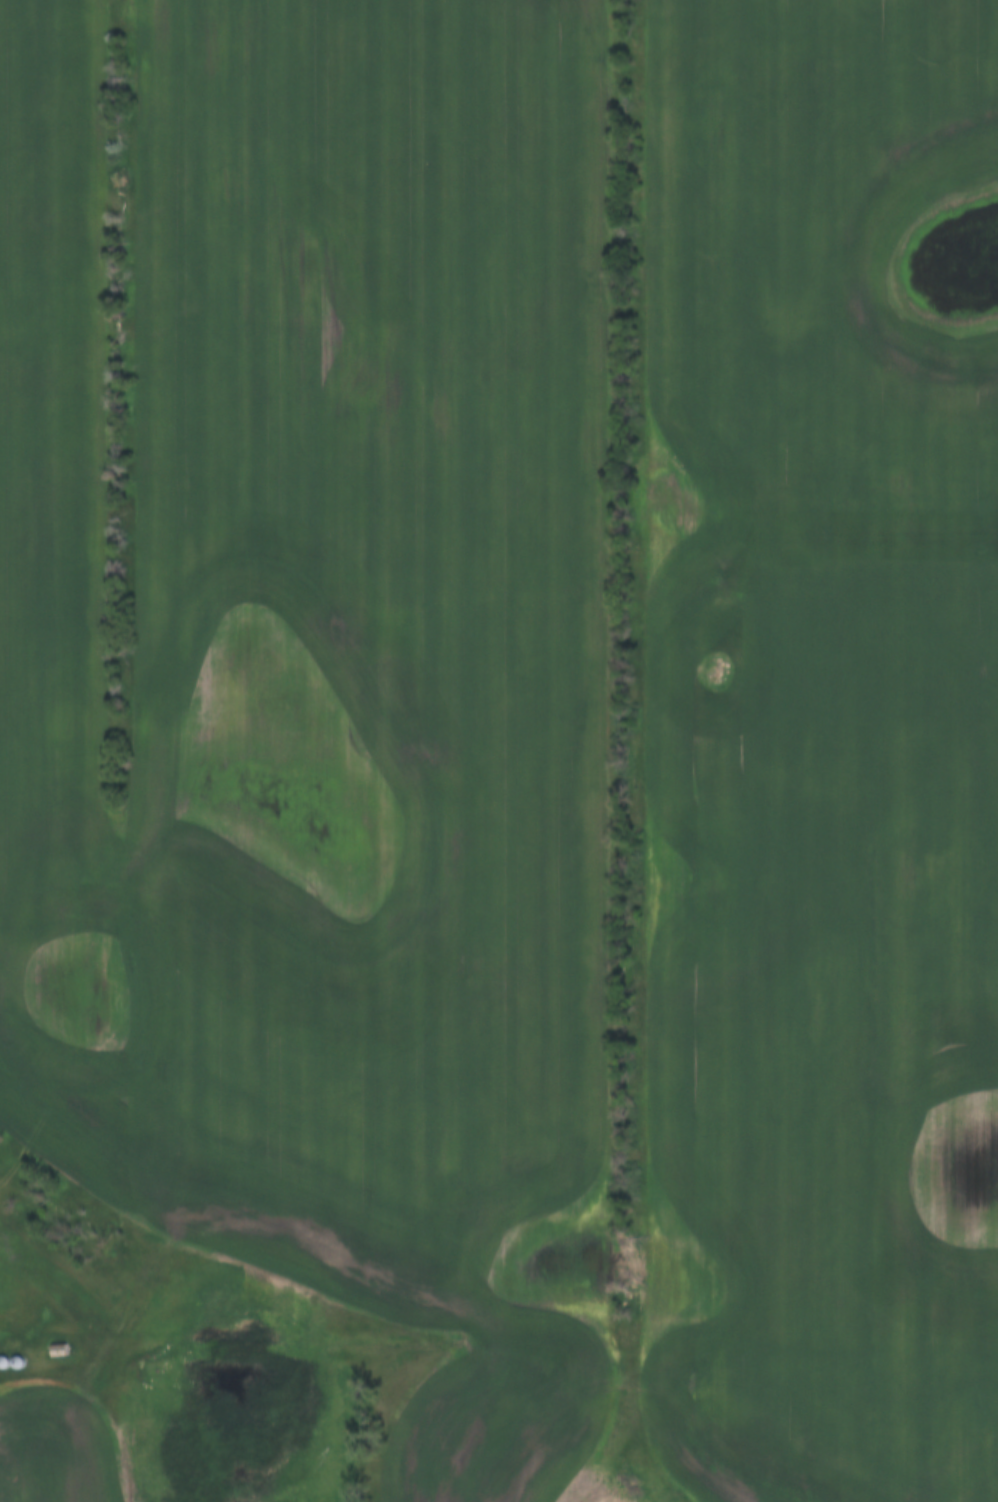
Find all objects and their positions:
building: (61, 1349)

